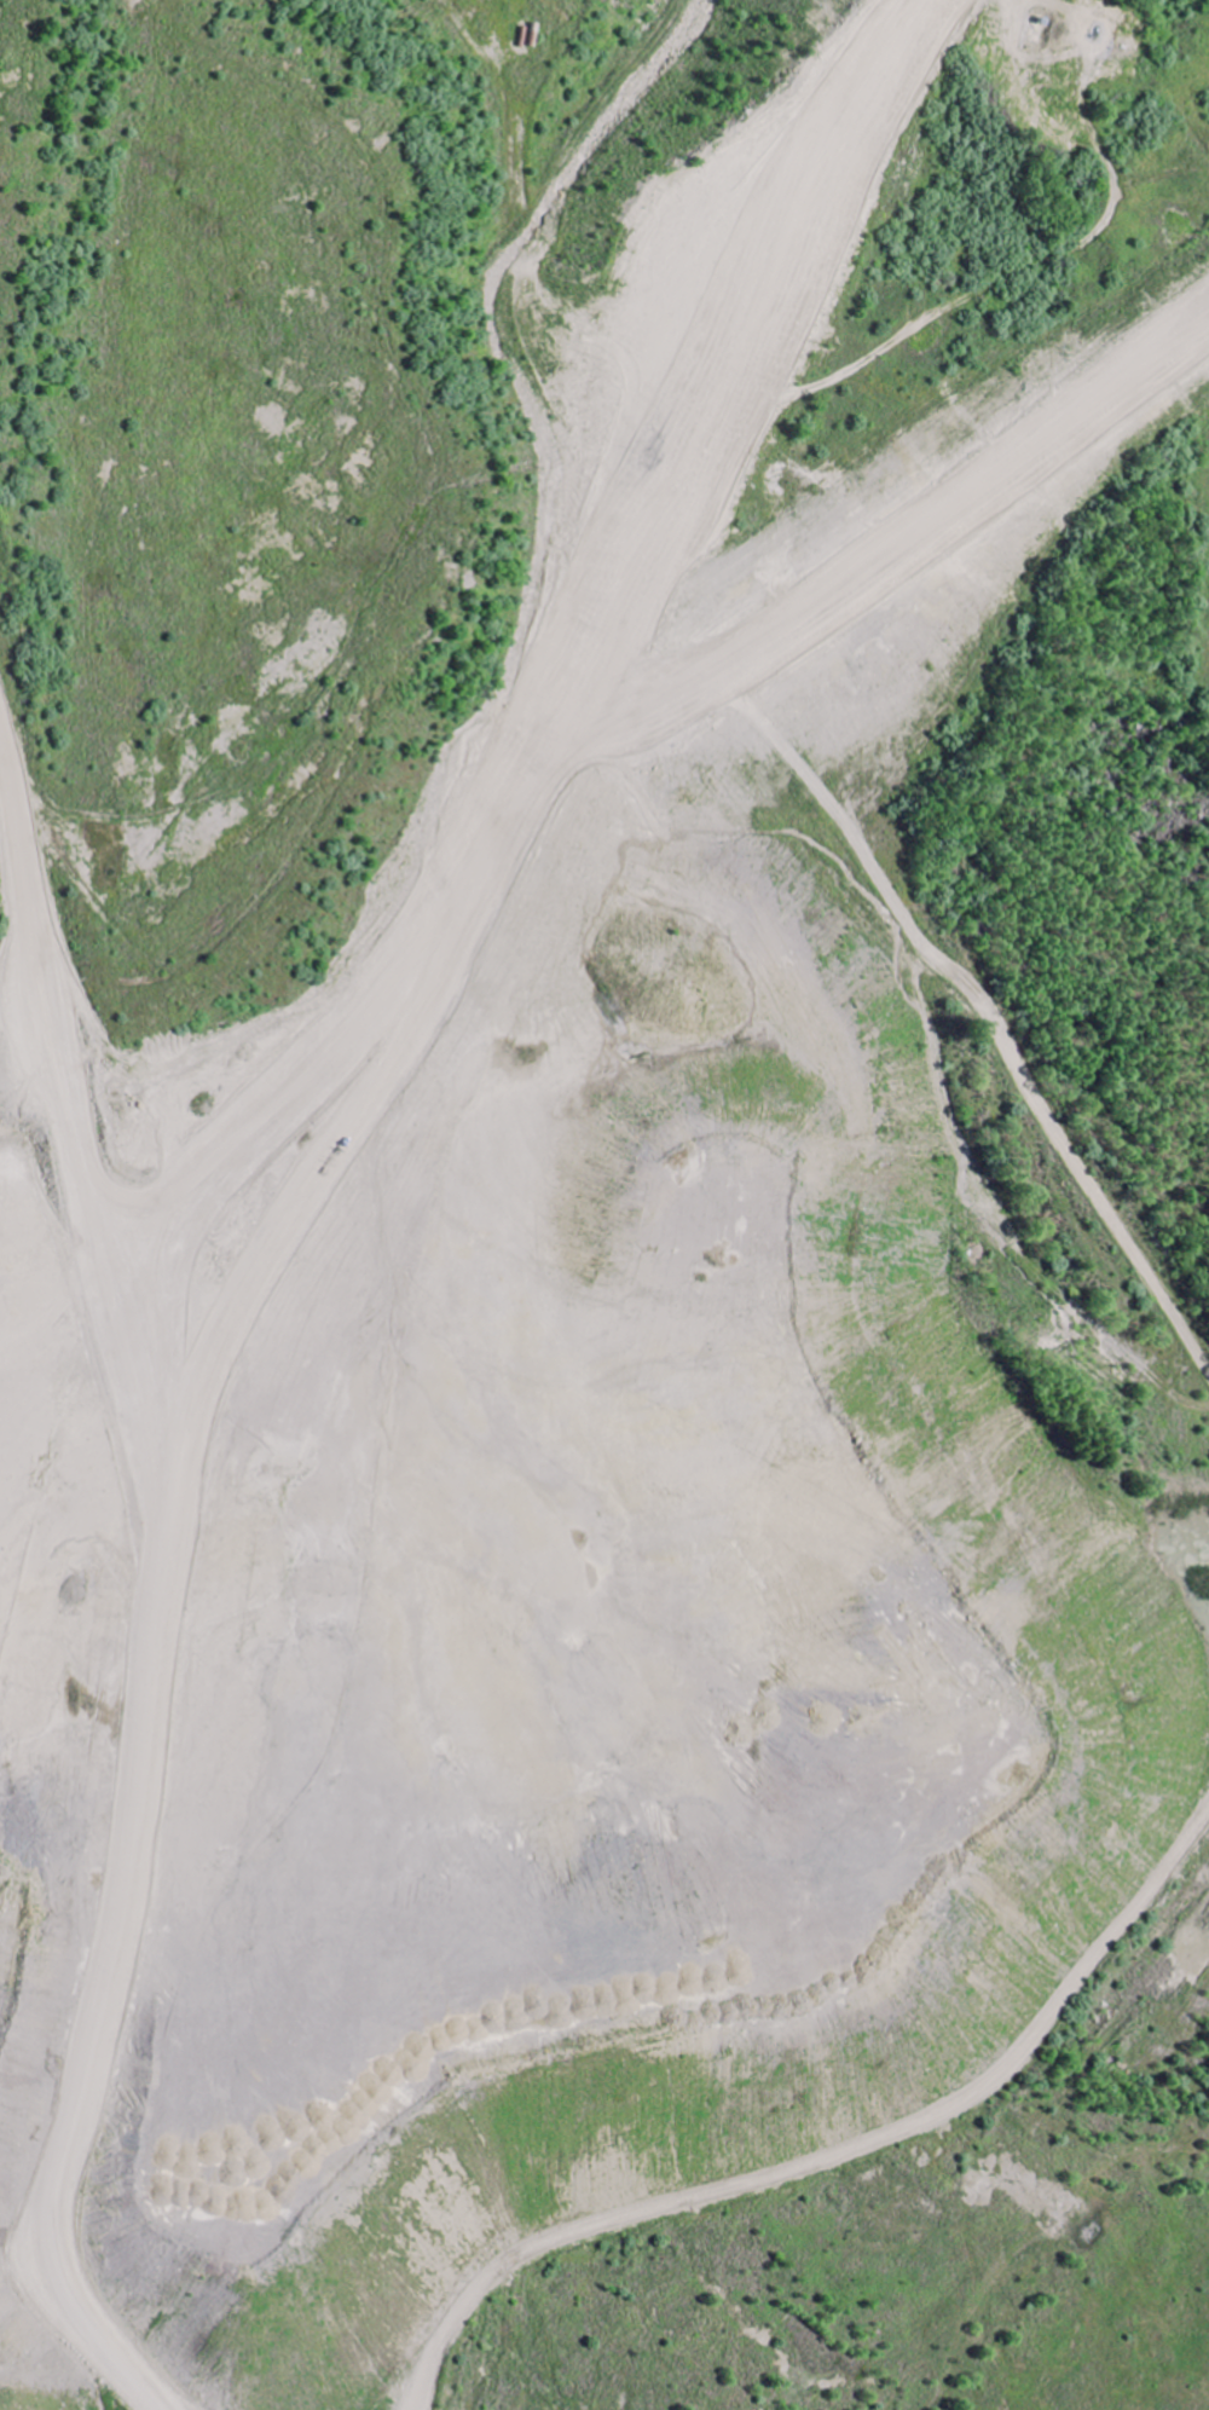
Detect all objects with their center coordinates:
quarry: (604, 1204)

